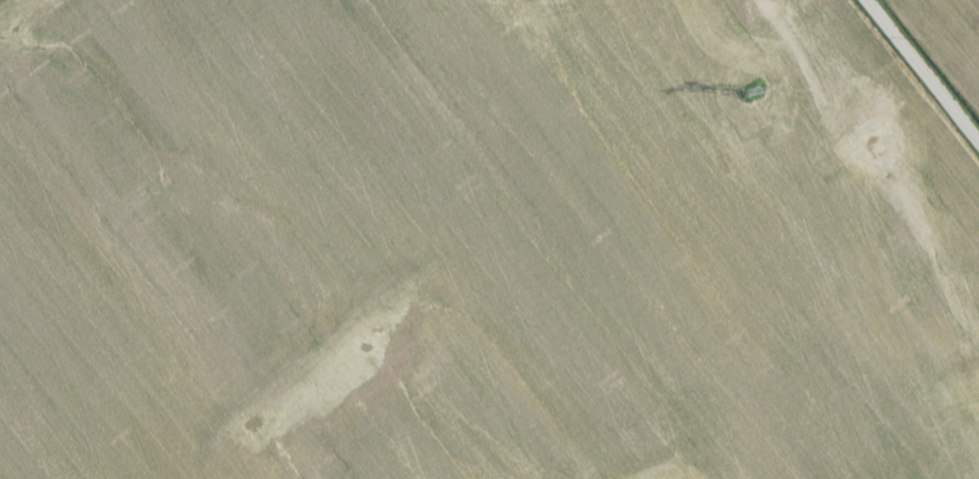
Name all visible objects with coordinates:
road: (919, 74)
power tower: (747, 97)

